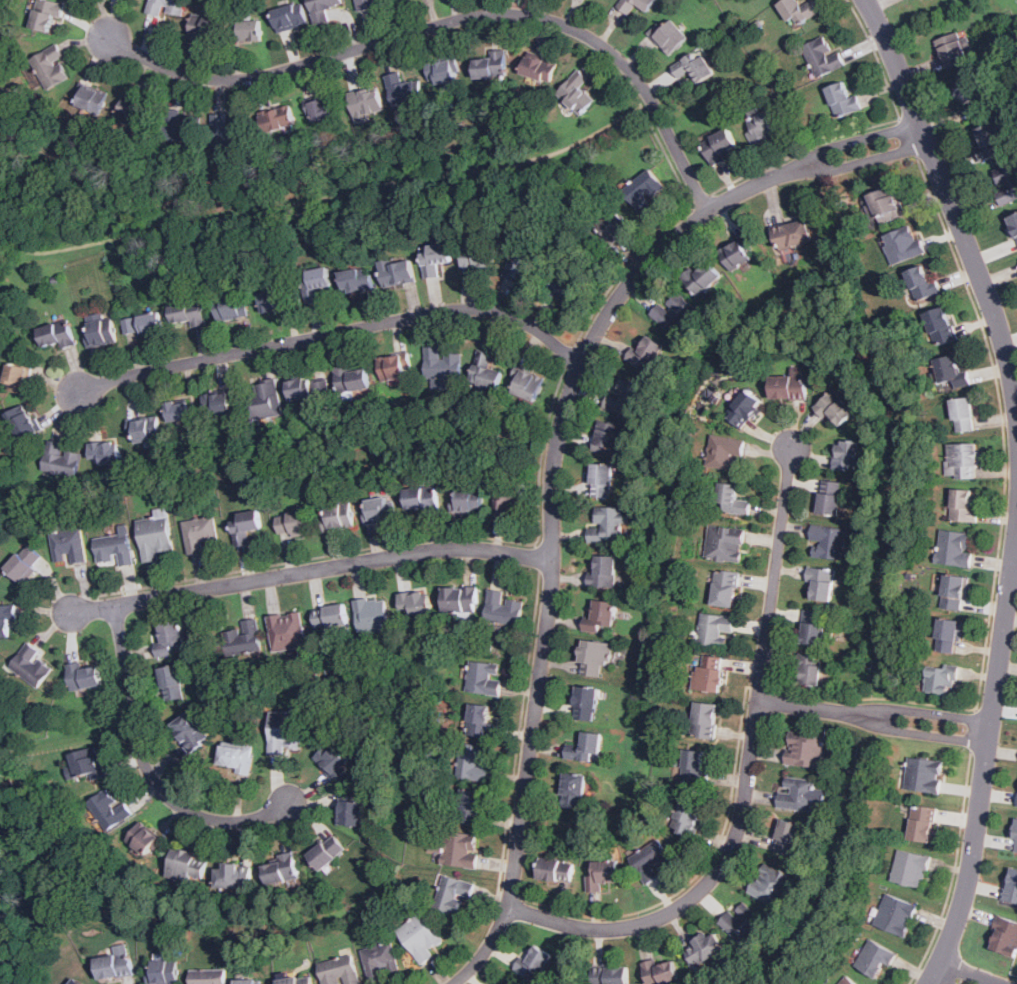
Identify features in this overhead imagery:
building: (367, 3)
building: (636, 5)
building: (168, 7)
building: (323, 9)
building: (799, 11)
building: (46, 14)
building: (291, 17)
road: (452, 21)
building: (207, 28)
building: (250, 30)
building: (669, 35)
building: (954, 46)
building: (823, 57)
road: (877, 57)
building: (493, 65)
building: (695, 66)
building: (52, 68)
building: (539, 68)
building: (443, 71)
building: (405, 91)
building: (577, 92)
building: (972, 97)
building: (93, 99)
building: (843, 99)
building: (366, 100)
building: (323, 107)
building: (136, 112)
building: (279, 118)
building: (763, 123)
building: (183, 127)
building: (231, 130)
road: (857, 138)
road: (908, 138)
building: (992, 141)
building: (721, 145)
road: (804, 148)
road: (865, 161)
building: (1006, 182)
building: (644, 188)
road: (700, 200)
road: (950, 200)
building: (887, 204)
road: (307, 205)
building: (1013, 224)
building: (613, 226)
road: (663, 229)
building: (793, 234)
building: (905, 244)
building: (477, 255)
building: (736, 255)
building: (435, 258)
building: (525, 266)
building: (399, 273)
building: (702, 277)
building: (358, 281)
building: (316, 283)
building: (923, 283)
building: (567, 289)
building: (272, 300)
building: (231, 307)
building: (674, 312)
building: (189, 313)
building: (143, 324)
building: (941, 326)
building: (101, 330)
building: (57, 334)
road: (335, 334)
building: (646, 353)
road: (570, 354)
building: (444, 364)
building: (395, 367)
building: (952, 371)
building: (486, 373)
building: (19, 377)
building: (352, 382)
building: (791, 384)
building: (529, 385)
building: (308, 390)
building: (625, 397)
building: (267, 400)
building: (219, 404)
building: (835, 407)
building: (744, 408)
building: (179, 411)
building: (963, 414)
building: (22, 422)
road: (1002, 426)
building: (146, 430)
building: (610, 437)
building: (725, 452)
building: (106, 453)
building: (847, 455)
building: (62, 460)
building: (963, 460)
building: (601, 480)
building: (507, 497)
building: (830, 497)
building: (422, 499)
building: (469, 499)
building: (731, 500)
building: (963, 507)
building: (380, 510)
building: (339, 516)
building: (295, 524)
building: (609, 525)
building: (245, 526)
road: (553, 530)
building: (202, 534)
building: (155, 536)
building: (828, 542)
road: (398, 543)
building: (726, 544)
building: (70, 546)
building: (956, 548)
building: (115, 549)
road: (538, 557)
road: (1015, 559)
building: (24, 564)
road: (311, 571)
building: (604, 572)
building: (822, 583)
building: (726, 589)
building: (955, 592)
building: (461, 600)
building: (416, 603)
building: (504, 608)
building: (374, 614)
building: (601, 614)
building: (331, 616)
building: (6, 619)
building: (815, 629)
building: (716, 630)
building: (288, 631)
building: (949, 634)
building: (170, 638)
building: (244, 638)
building: (594, 657)
building: (31, 665)
building: (810, 669)
building: (710, 673)
building: (84, 676)
building: (485, 677)
building: (941, 680)
building: (172, 683)
road: (761, 688)
road: (875, 698)
building: (586, 703)
road: (821, 709)
road: (936, 715)
building: (706, 720)
building: (481, 721)
building: (191, 731)
road: (976, 731)
building: (285, 732)
road: (519, 732)
road: (934, 734)
building: (586, 747)
building: (806, 749)
building: (236, 757)
building: (332, 759)
road: (986, 759)
building: (87, 763)
building: (473, 763)
building: (694, 766)
road: (147, 769)
building: (925, 774)
road: (748, 776)
building: (574, 789)
building: (797, 793)
building: (472, 806)
building: (110, 809)
building: (351, 813)
building: (688, 817)
building: (923, 823)
building: (788, 837)
building: (146, 840)
building: (1015, 842)
building: (461, 849)
building: (326, 853)
building: (651, 857)
building: (189, 864)
building: (911, 868)
building: (283, 870)
building: (557, 870)
road: (700, 870)
building: (604, 874)
road: (952, 874)
building: (234, 877)
building: (772, 885)
building: (1012, 886)
building: (453, 894)
road: (511, 898)
building: (896, 915)
building: (741, 922)
building: (1005, 937)
building: (421, 938)
building: (705, 949)
building: (875, 958)
building: (381, 961)
building: (115, 963)
building: (535, 964)
building: (339, 971)
building: (163, 972)
building: (661, 972)
building: (612, 976)
road: (956, 976)
building: (209, 977)
building: (298, 980)
building: (848, 981)
building: (77, 982)
building: (247, 982)
building: (508, 982)

